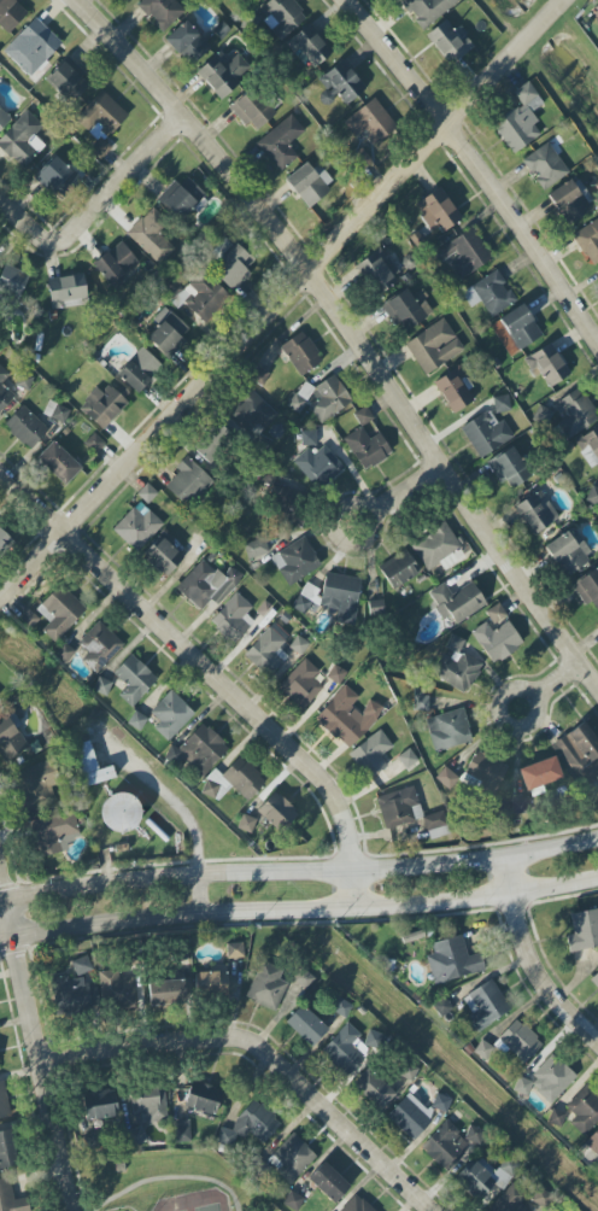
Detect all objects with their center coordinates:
building: (426, 10)
building: (160, 11)
building: (10, 14)
building: (281, 16)
building: (597, 19)
building: (597, 36)
building: (187, 42)
building: (309, 46)
building: (31, 47)
building: (223, 71)
building: (68, 82)
building: (341, 82)
building: (252, 110)
building: (4, 118)
building: (520, 119)
building: (100, 122)
building: (370, 122)
building: (22, 140)
building: (281, 142)
road: (474, 159)
building: (358, 160)
building: (544, 166)
building: (58, 179)
building: (309, 183)
building: (183, 198)
building: (570, 200)
road: (95, 203)
building: (436, 211)
building: (151, 236)
building: (588, 241)
building: (463, 253)
building: (115, 263)
building: (233, 267)
building: (377, 270)
building: (11, 286)
building: (66, 291)
building: (489, 293)
building: (199, 298)
road: (281, 299)
building: (408, 309)
road: (348, 329)
building: (168, 333)
building: (434, 346)
building: (301, 353)
building: (546, 364)
building: (139, 370)
building: (2, 374)
building: (258, 376)
building: (455, 388)
building: (4, 397)
building: (322, 398)
building: (500, 404)
building: (102, 405)
building: (55, 411)
building: (252, 413)
building: (575, 414)
building: (363, 416)
building: (541, 416)
building: (25, 427)
building: (486, 434)
building: (93, 443)
building: (211, 446)
building: (367, 447)
building: (590, 447)
building: (317, 462)
building: (58, 463)
building: (509, 468)
building: (188, 482)
road: (405, 492)
building: (146, 493)
building: (592, 497)
building: (287, 507)
building: (535, 511)
road: (369, 516)
building: (137, 526)
building: (4, 542)
building: (256, 548)
building: (438, 548)
building: (568, 552)
building: (163, 555)
building: (295, 561)
building: (399, 569)
building: (207, 585)
building: (588, 589)
building: (341, 596)
building: (457, 602)
building: (61, 612)
building: (496, 613)
building: (233, 619)
building: (497, 640)
building: (455, 644)
building: (99, 647)
building: (64, 653)
building: (266, 653)
road: (209, 669)
building: (456, 671)
building: (336, 674)
building: (134, 679)
road: (557, 681)
building: (301, 684)
road: (535, 704)
building: (170, 715)
building: (347, 716)
building: (448, 730)
building: (10, 738)
building: (198, 750)
building: (579, 753)
building: (370, 755)
building: (89, 766)
building: (483, 773)
building: (540, 773)
building: (234, 780)
building: (35, 788)
building: (399, 807)
road: (172, 809)
building: (277, 812)
building: (121, 813)
building: (435, 825)
building: (53, 832)
road: (299, 868)
road: (199, 895)
road: (299, 908)
building: (582, 935)
building: (234, 950)
road: (529, 958)
building: (452, 960)
building: (81, 966)
building: (304, 978)
building: (594, 979)
building: (212, 983)
building: (266, 985)
building: (115, 991)
building: (166, 991)
building: (74, 993)
building: (485, 1005)
building: (341, 1008)
building: (305, 1025)
building: (517, 1041)
road: (39, 1047)
building: (350, 1048)
road: (264, 1054)
building: (552, 1078)
building: (522, 1086)
building: (374, 1089)
building: (203, 1099)
building: (2, 1102)
building: (440, 1102)
building: (99, 1105)
building: (148, 1105)
building: (584, 1115)
building: (410, 1116)
building: (250, 1125)
building: (181, 1130)
road: (69, 1134)
building: (136, 1135)
building: (593, 1142)
building: (450, 1143)
building: (7, 1151)
building: (291, 1158)
building: (485, 1176)
road: (171, 1177)
building: (328, 1182)
park: (169, 1183)
building: (11, 1198)
building: (509, 1200)
park: (195, 1203)
building: (356, 1205)

